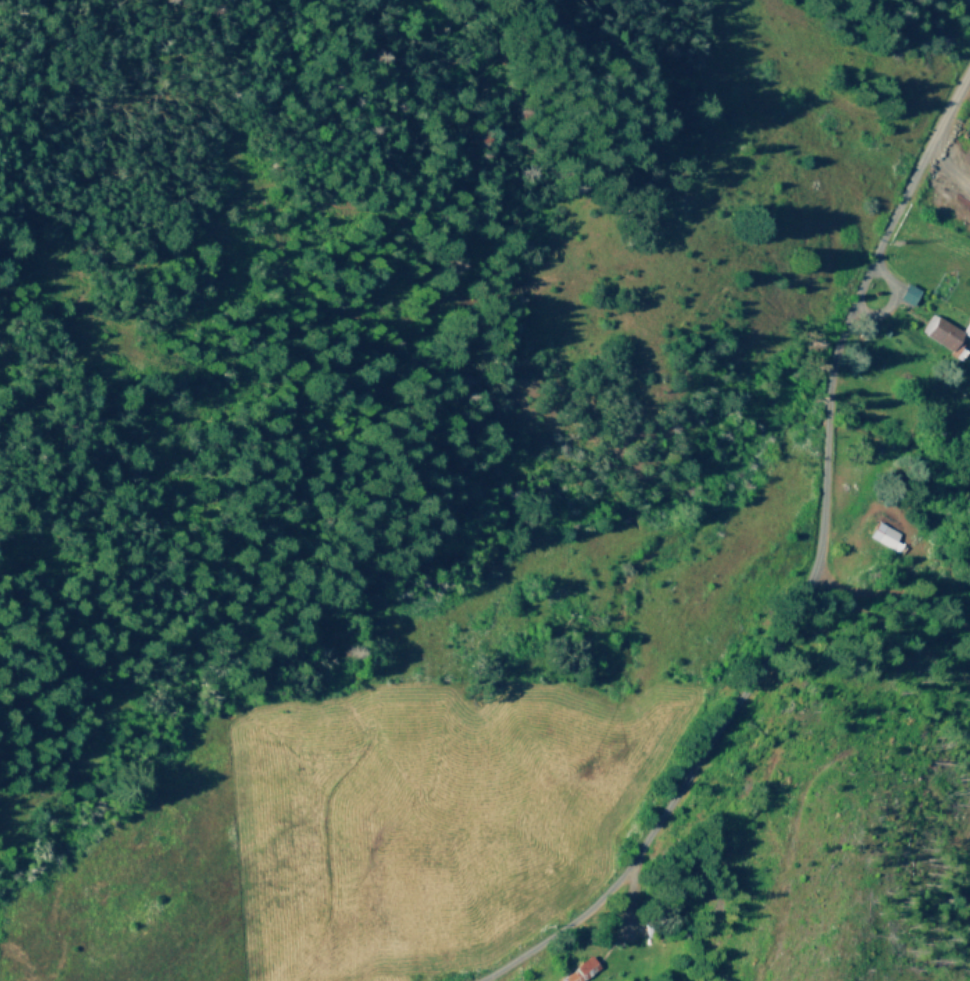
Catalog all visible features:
road: (801, 166)
building: (909, 294)
building: (947, 332)
building: (883, 535)
road: (788, 625)
building: (579, 970)

